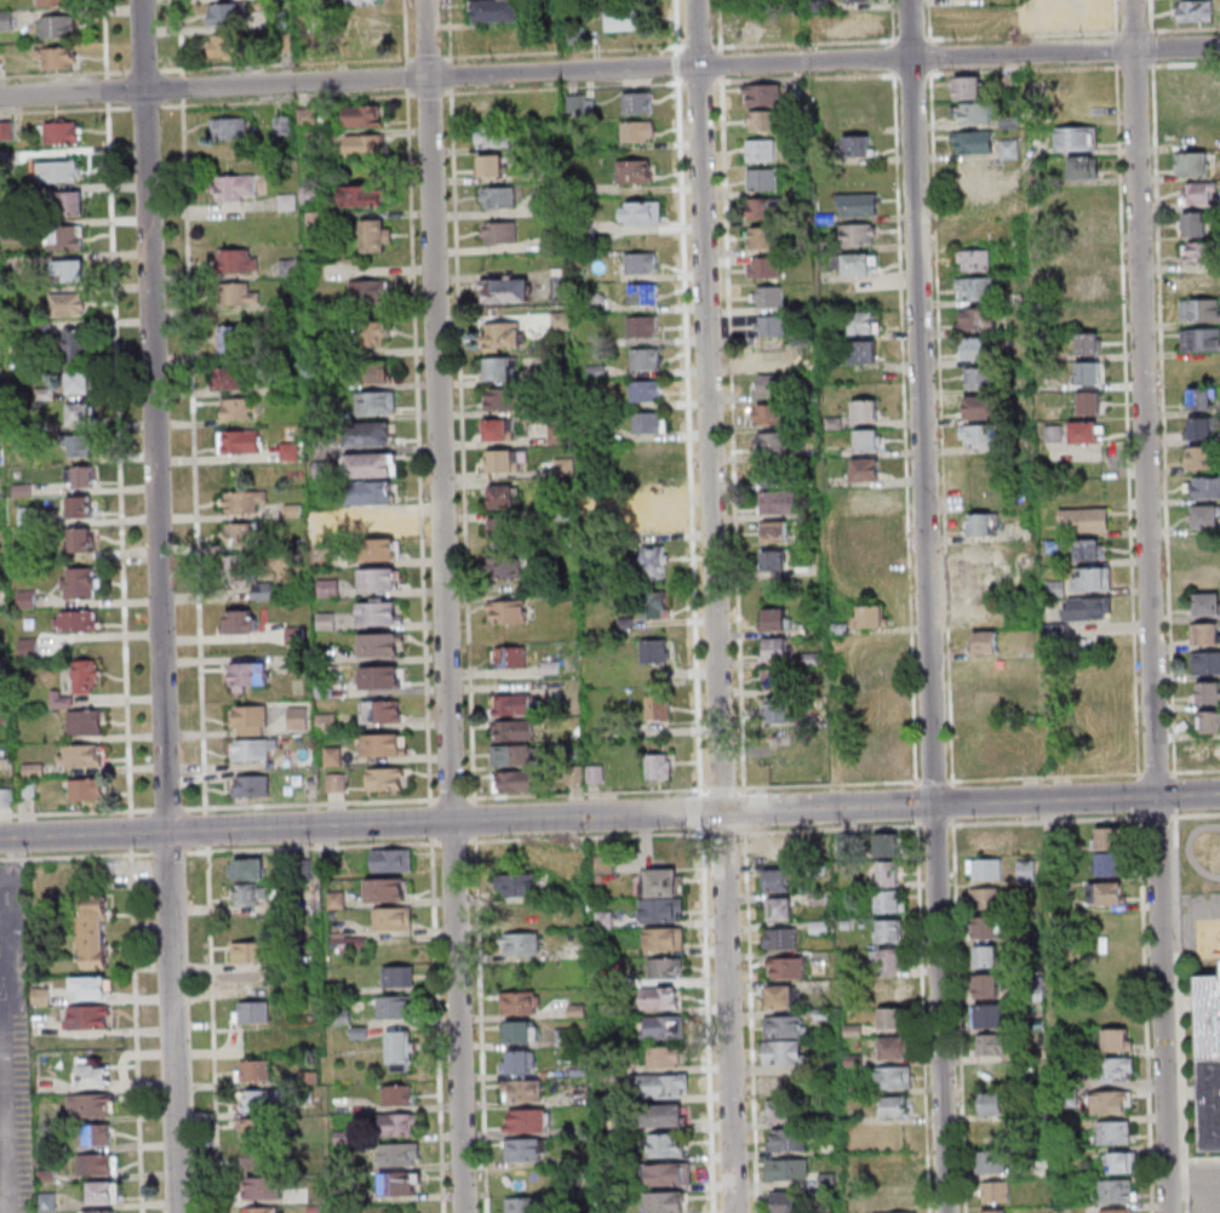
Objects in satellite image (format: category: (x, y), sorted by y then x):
building: (53, 1)
building: (858, 1)
building: (362, 2)
building: (497, 10)
building: (1190, 10)
building: (223, 15)
building: (1072, 16)
building: (625, 18)
building: (859, 24)
building: (57, 25)
building: (366, 30)
building: (224, 45)
building: (59, 57)
road: (609, 69)
building: (1196, 79)
building: (968, 87)
building: (762, 95)
building: (637, 103)
road: (143, 107)
building: (489, 110)
building: (973, 114)
building: (307, 115)
building: (363, 115)
building: (761, 121)
building: (282, 126)
building: (228, 127)
building: (637, 131)
building: (62, 132)
building: (1192, 133)
building: (494, 135)
building: (1077, 138)
building: (973, 144)
building: (365, 145)
building: (857, 145)
building: (761, 149)
building: (1008, 149)
building: (1191, 162)
building: (491, 165)
building: (1084, 166)
building: (62, 171)
building: (637, 171)
building: (974, 172)
building: (762, 178)
building: (233, 187)
building: (1198, 193)
building: (362, 195)
building: (499, 196)
building: (68, 202)
building: (858, 205)
building: (761, 208)
building: (641, 212)
building: (1197, 223)
building: (1082, 227)
building: (500, 231)
building: (858, 234)
building: (377, 235)
building: (762, 236)
building: (65, 238)
building: (1197, 252)
building: (1081, 254)
building: (974, 259)
building: (237, 261)
building: (640, 263)
building: (855, 264)
building: (763, 267)
building: (70, 270)
building: (1201, 281)
building: (1083, 285)
building: (975, 288)
building: (368, 290)
building: (508, 290)
building: (642, 293)
building: (239, 294)
building: (767, 296)
building: (67, 304)
building: (1199, 310)
building: (1082, 315)
building: (978, 317)
building: (864, 322)
building: (769, 325)
building: (642, 326)
building: (374, 332)
building: (502, 337)
building: (230, 338)
building: (1201, 339)
building: (1088, 343)
building: (75, 344)
building: (974, 348)
building: (863, 351)
building: (769, 354)
building: (645, 359)
building: (500, 368)
building: (377, 371)
building: (1088, 372)
building: (229, 377)
building: (979, 378)
building: (79, 383)
building: (772, 384)
building: (645, 391)
building: (502, 397)
road: (1141, 397)
building: (1201, 399)
building: (376, 401)
building: (1090, 402)
building: (980, 407)
building: (239, 408)
building: (865, 410)
building: (768, 413)
building: (79, 414)
building: (648, 422)
building: (1201, 428)
building: (497, 429)
building: (1086, 431)
building: (371, 433)
building: (557, 434)
building: (980, 437)
building: (867, 440)
building: (239, 441)
building: (772, 442)
building: (79, 445)
building: (290, 451)
building: (648, 454)
building: (1201, 457)
road: (118, 459)
building: (499, 460)
building: (372, 464)
building: (866, 468)
building: (775, 473)
building: (79, 475)
building: (1205, 486)
building: (372, 492)
building: (502, 496)
building: (865, 498)
building: (242, 500)
building: (778, 502)
building: (81, 505)
building: (646, 514)
building: (1205, 516)
building: (1084, 520)
building: (372, 523)
building: (865, 527)
building: (503, 528)
building: (774, 531)
building: (244, 533)
building: (79, 539)
building: (378, 549)
building: (1089, 549)
building: (870, 557)
building: (773, 559)
building: (653, 561)
building: (504, 563)
building: (236, 571)
building: (378, 578)
building: (1093, 578)
building: (78, 583)
building: (263, 590)
building: (1207, 603)
building: (654, 605)
road: (159, 606)
road: (442, 606)
road: (712, 606)
road: (924, 606)
building: (1088, 607)
building: (506, 611)
building: (377, 612)
building: (869, 616)
building: (774, 619)
building: (75, 620)
building: (239, 620)
building: (1204, 633)
building: (294, 635)
building: (985, 641)
building: (378, 643)
building: (775, 650)
building: (655, 651)
building: (509, 657)
building: (1205, 662)
building: (874, 675)
building: (85, 676)
building: (248, 676)
building: (379, 676)
building: (775, 679)
building: (1207, 692)
building: (1096, 696)
building: (989, 699)
building: (511, 704)
building: (874, 705)
building: (657, 706)
building: (778, 709)
building: (380, 711)
building: (297, 716)
building: (248, 720)
building: (1207, 721)
building: (84, 722)
building: (325, 722)
building: (1098, 726)
building: (515, 729)
building: (984, 729)
building: (875, 733)
building: (778, 736)
building: (382, 744)
building: (252, 749)
building: (1207, 750)
building: (80, 755)
building: (510, 755)
building: (1099, 755)
building: (990, 759)
building: (658, 766)
building: (386, 778)
building: (516, 780)
building: (251, 785)
building: (86, 790)
road: (1187, 795)
building: (5, 797)
road: (577, 817)
building: (991, 839)
building: (1106, 839)
building: (886, 845)
road: (18, 852)
building: (391, 860)
building: (1109, 863)
road: (18, 869)
building: (984, 869)
building: (246, 870)
building: (1025, 870)
road: (8, 874)
building: (888, 874)
building: (775, 880)
building: (660, 881)
building: (516, 885)
building: (385, 888)
building: (1107, 893)
building: (251, 896)
building: (985, 899)
building: (336, 900)
building: (888, 902)
building: (779, 908)
building: (661, 909)
building: (522, 914)
building: (391, 919)
building: (985, 928)
building: (92, 931)
building: (888, 931)
building: (664, 938)
building: (780, 938)
building: (348, 944)
building: (520, 944)
road: (18, 950)
building: (251, 951)
building: (985, 957)
building: (889, 961)
building: (665, 967)
building: (785, 967)
building: (399, 975)
building: (986, 985)
building: (91, 986)
building: (892, 989)
building: (779, 996)
building: (659, 997)
building: (517, 1002)
road: (1159, 1005)
building: (394, 1006)
building: (252, 1011)
building: (987, 1015)
building: (87, 1017)
building: (892, 1019)
building: (665, 1026)
building: (783, 1026)
road: (212, 1029)
road: (136, 1030)
building: (521, 1031)
building: (1115, 1040)
building: (991, 1043)
parking lot: (15, 1048)
building: (895, 1048)
building: (399, 1051)
building: (783, 1053)
building: (666, 1055)
building: (1210, 1060)
building: (517, 1062)
building: (1115, 1068)
building: (256, 1070)
building: (893, 1077)
building: (664, 1086)
building: (779, 1086)
building: (521, 1089)
building: (397, 1094)
building: (260, 1100)
building: (1110, 1102)
building: (991, 1103)
building: (92, 1105)
building: (893, 1106)
road: (7, 1111)
building: (783, 1111)
building: (664, 1115)
building: (527, 1120)
building: (399, 1125)
building: (258, 1129)
building: (1113, 1132)
building: (97, 1134)
building: (786, 1139)
building: (665, 1145)
building: (526, 1149)
building: (399, 1154)
building: (260, 1158)
building: (991, 1161)
building: (1121, 1161)
building: (98, 1163)
building: (786, 1169)
building: (668, 1173)
building: (400, 1184)
road: (1192, 1184)
building: (262, 1188)
building: (995, 1190)
building: (1116, 1190)
building: (103, 1191)
building: (665, 1201)
building: (785, 1202)
building: (526, 1205)
building: (262, 1209)
building: (101, 1211)
building: (995, 1211)
building: (1117, 1211)
building: (894, 1212)

